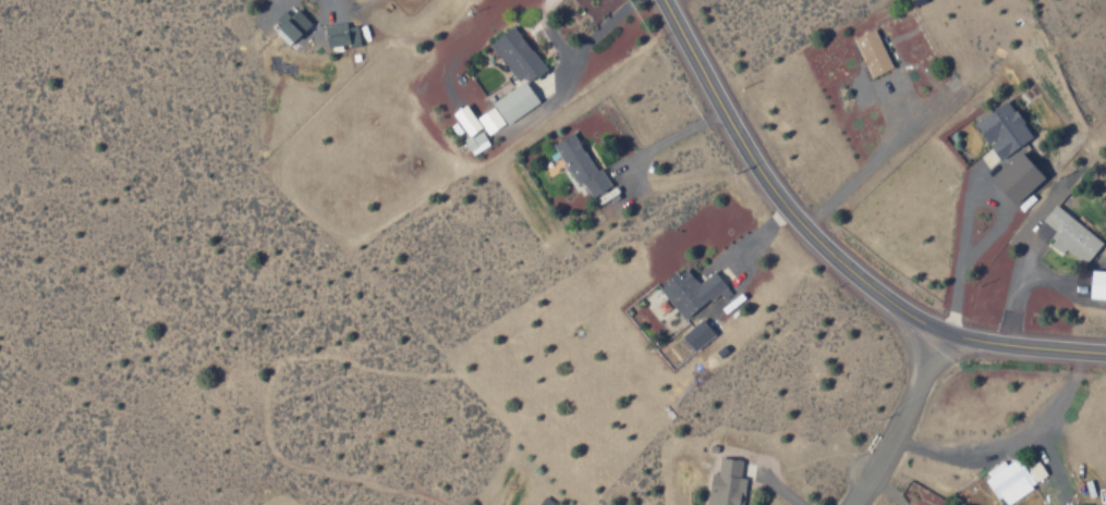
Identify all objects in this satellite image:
building: (290, 25)
building: (338, 35)
building: (870, 52)
building: (514, 54)
building: (512, 102)
building: (462, 119)
building: (487, 120)
building: (998, 130)
building: (473, 141)
building: (576, 164)
building: (1012, 177)
building: (1068, 235)
road: (828, 251)
building: (1095, 285)
building: (686, 291)
building: (694, 334)
road: (885, 423)
building: (1010, 478)
building: (724, 484)

